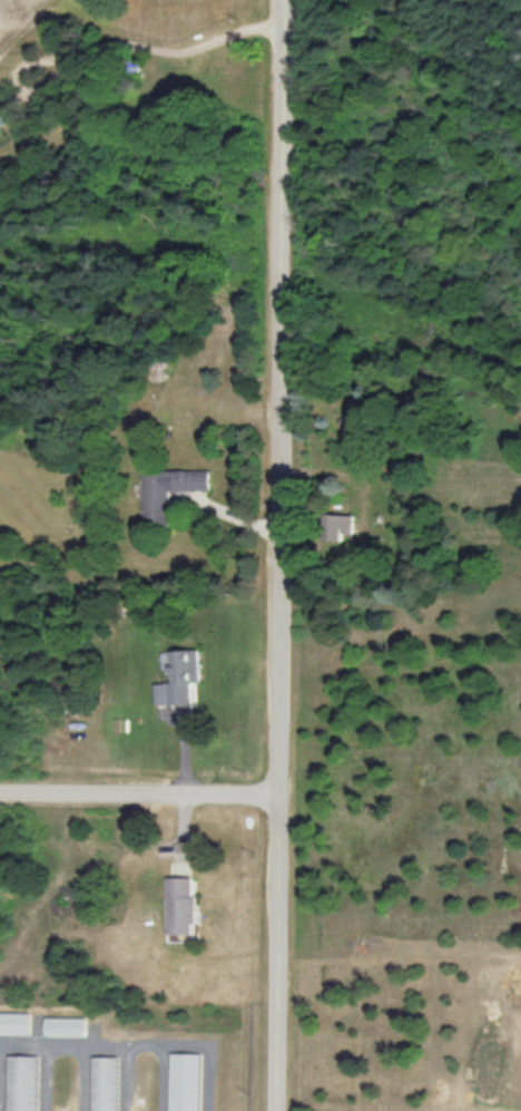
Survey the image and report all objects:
building: (167, 100)
building: (3, 120)
building: (169, 494)
building: (340, 528)
road: (269, 555)
building: (184, 678)
building: (183, 898)
building: (21, 1084)
building: (104, 1084)

